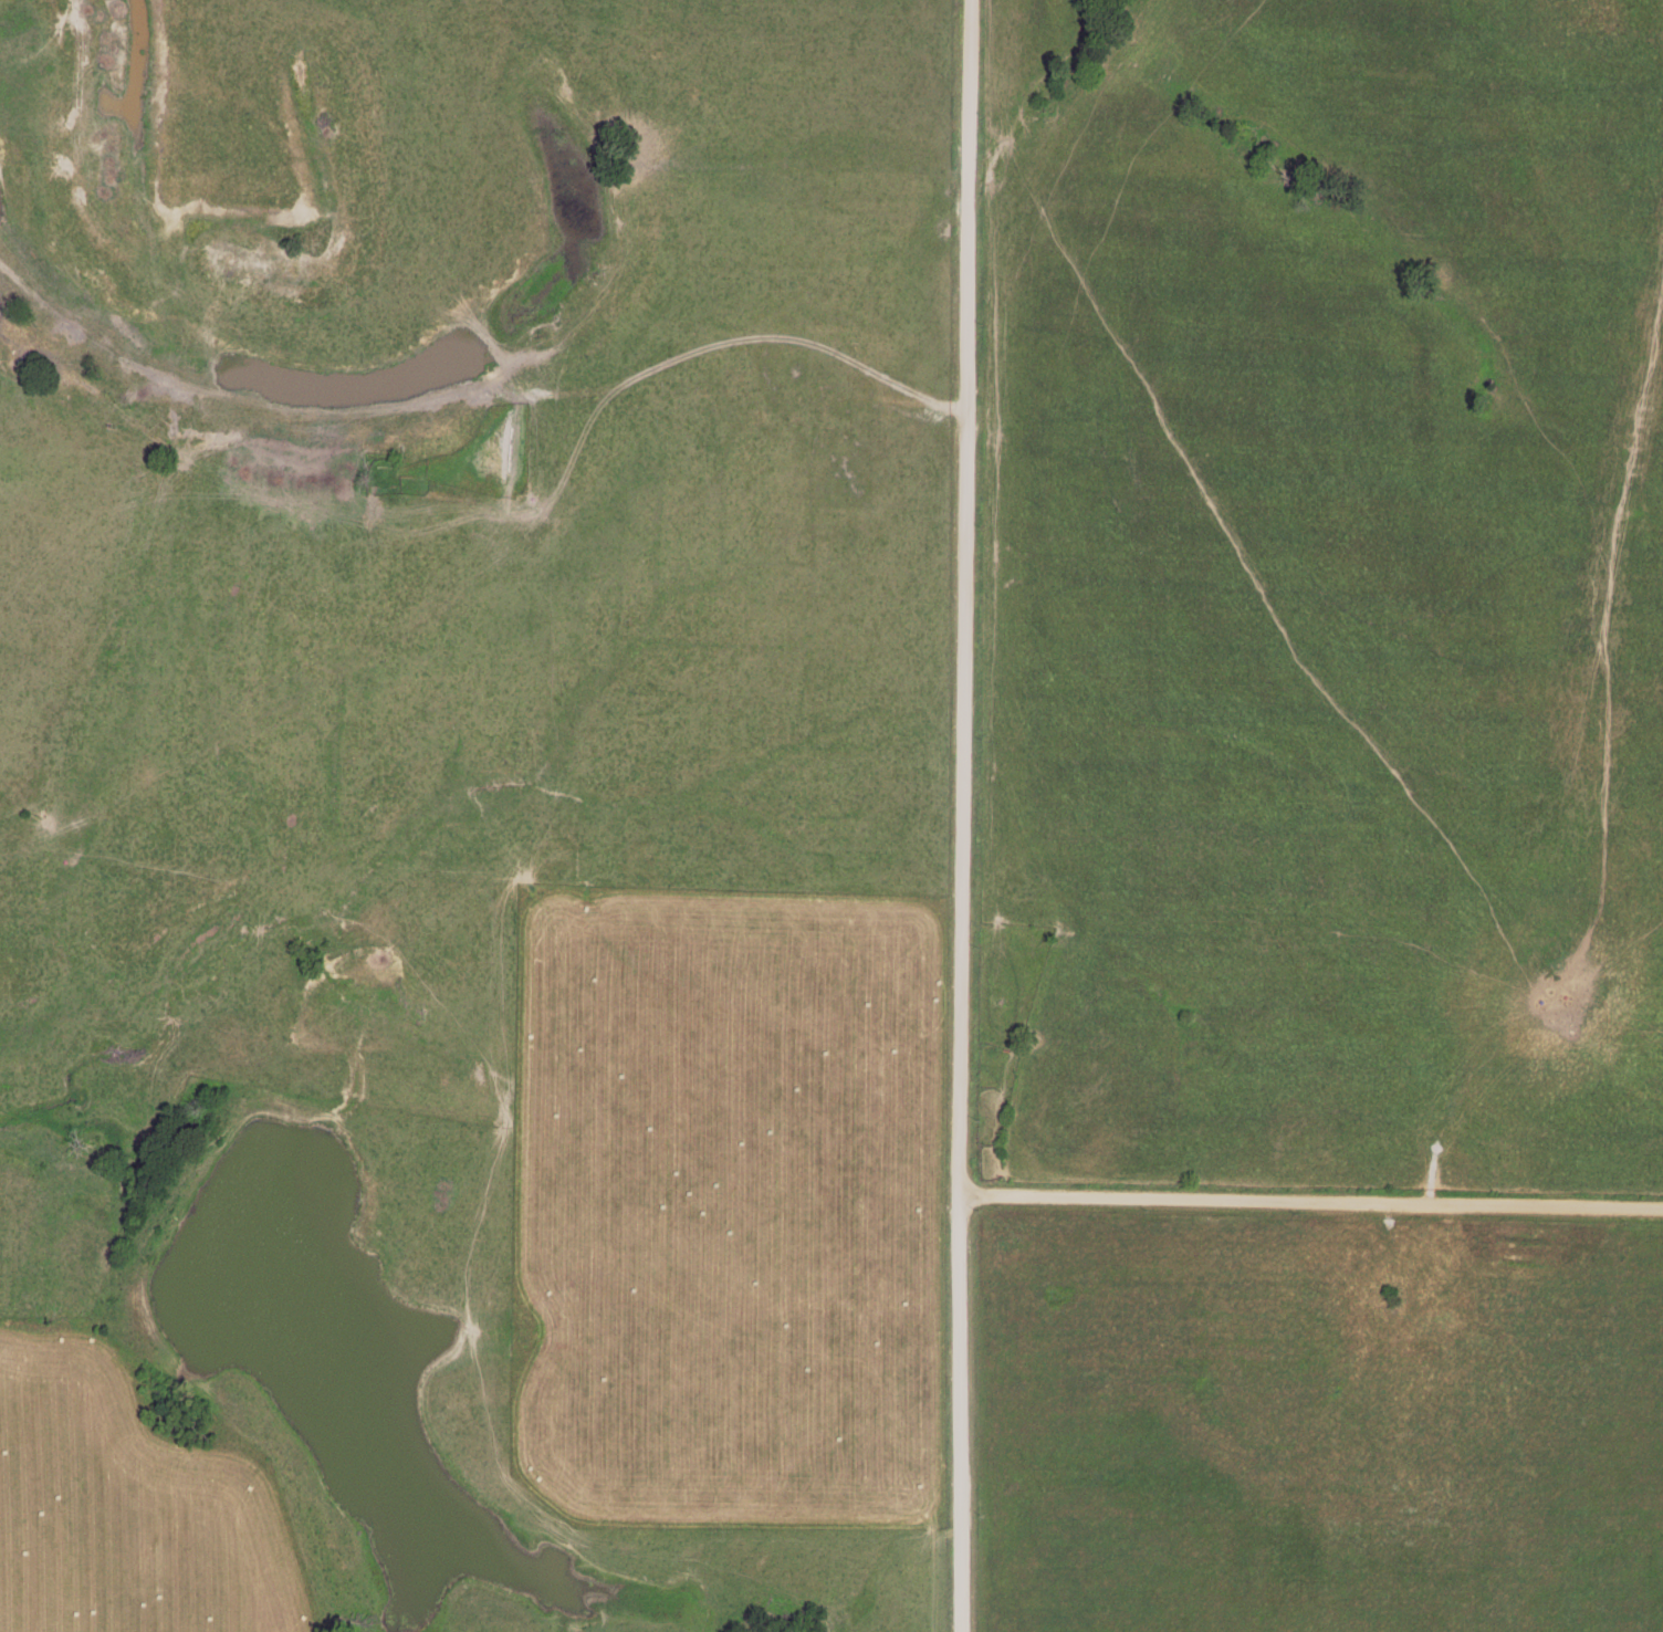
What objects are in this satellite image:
road: (962, 815)
road: (1311, 1199)

